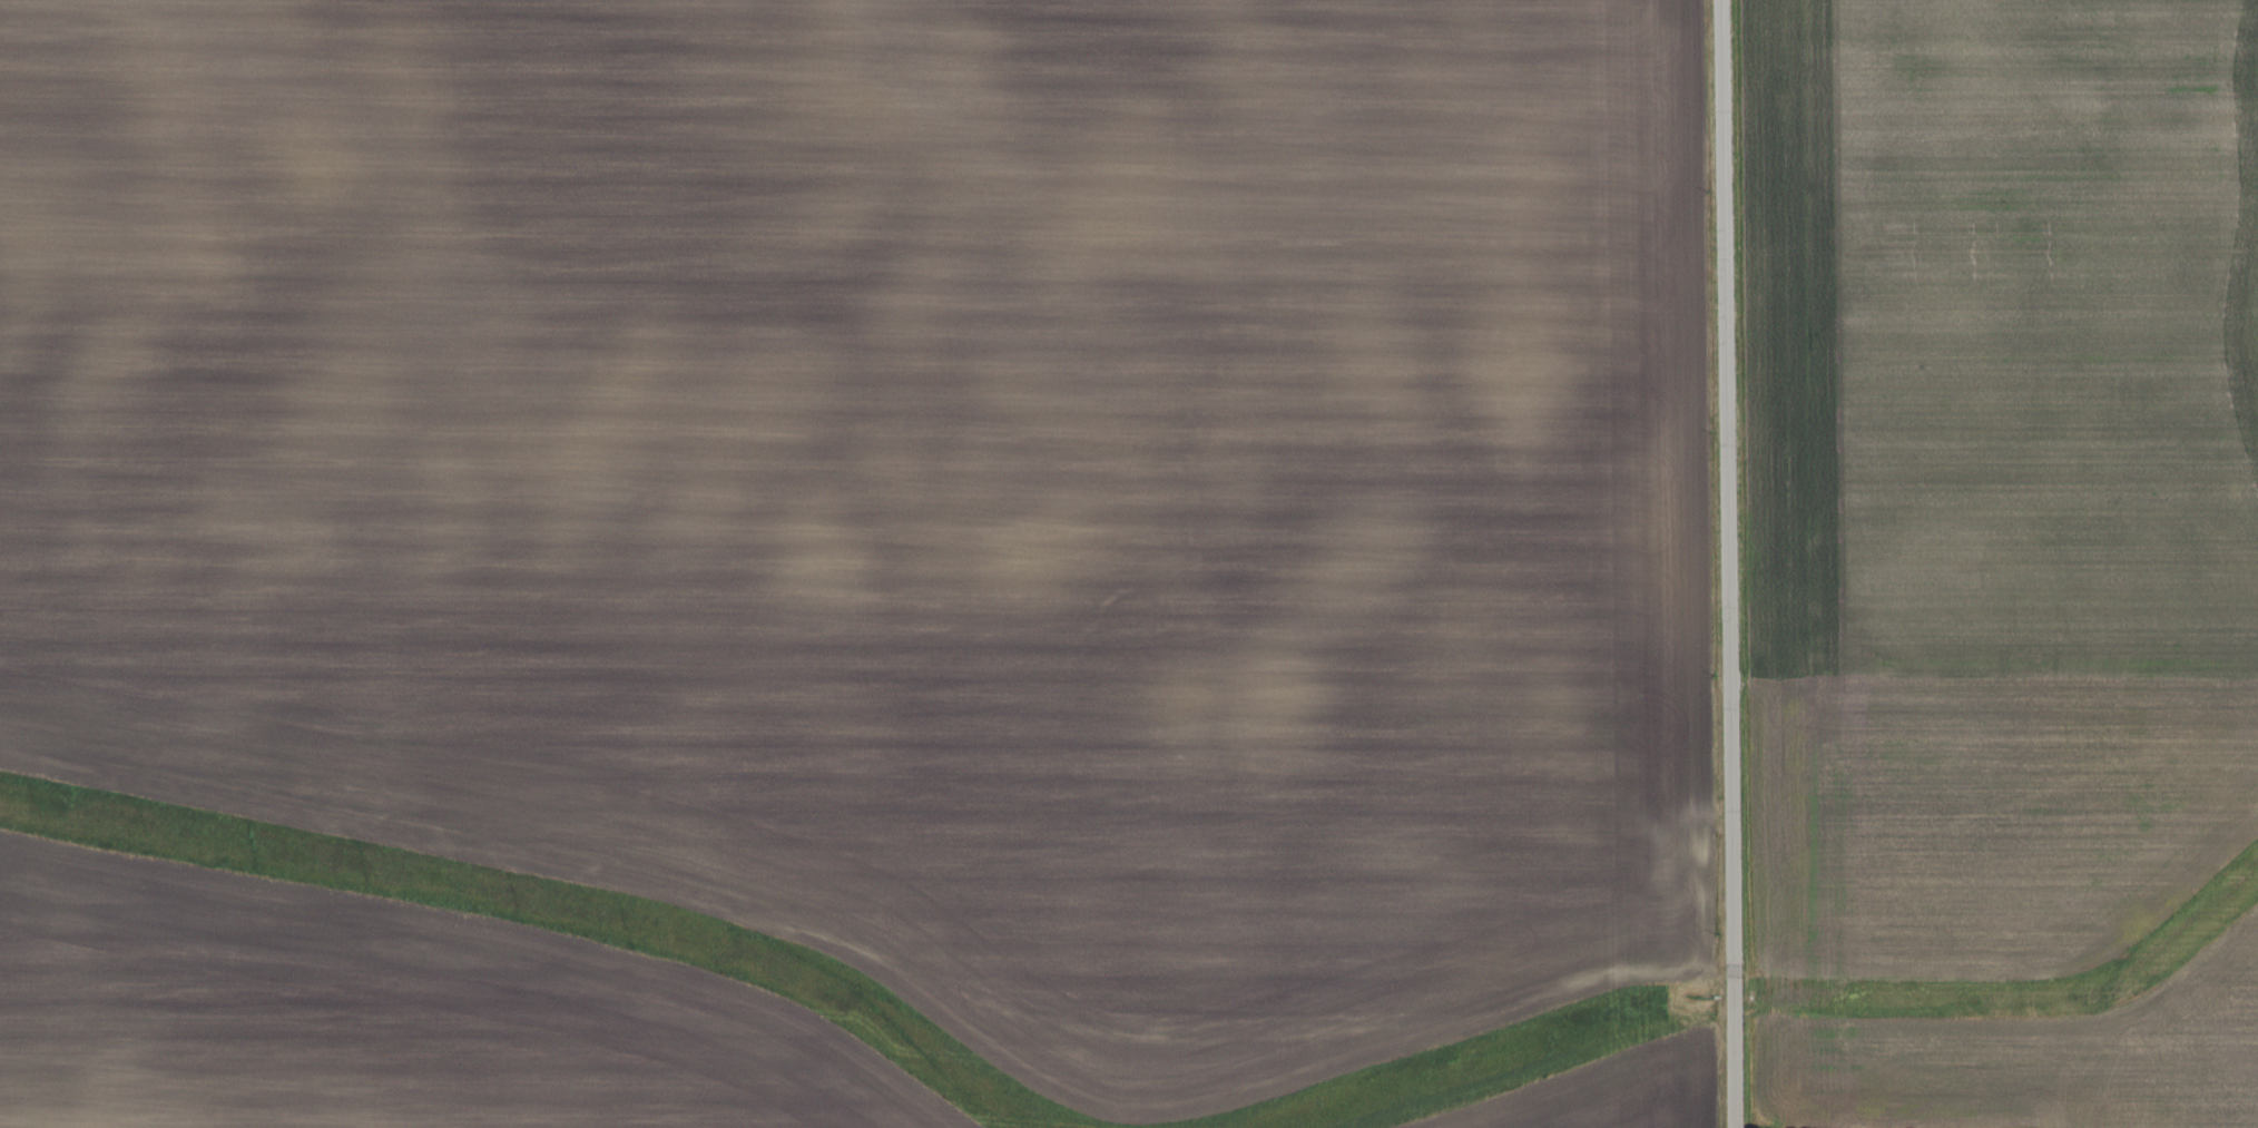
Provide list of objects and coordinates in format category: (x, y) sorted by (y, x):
road: (1725, 563)

